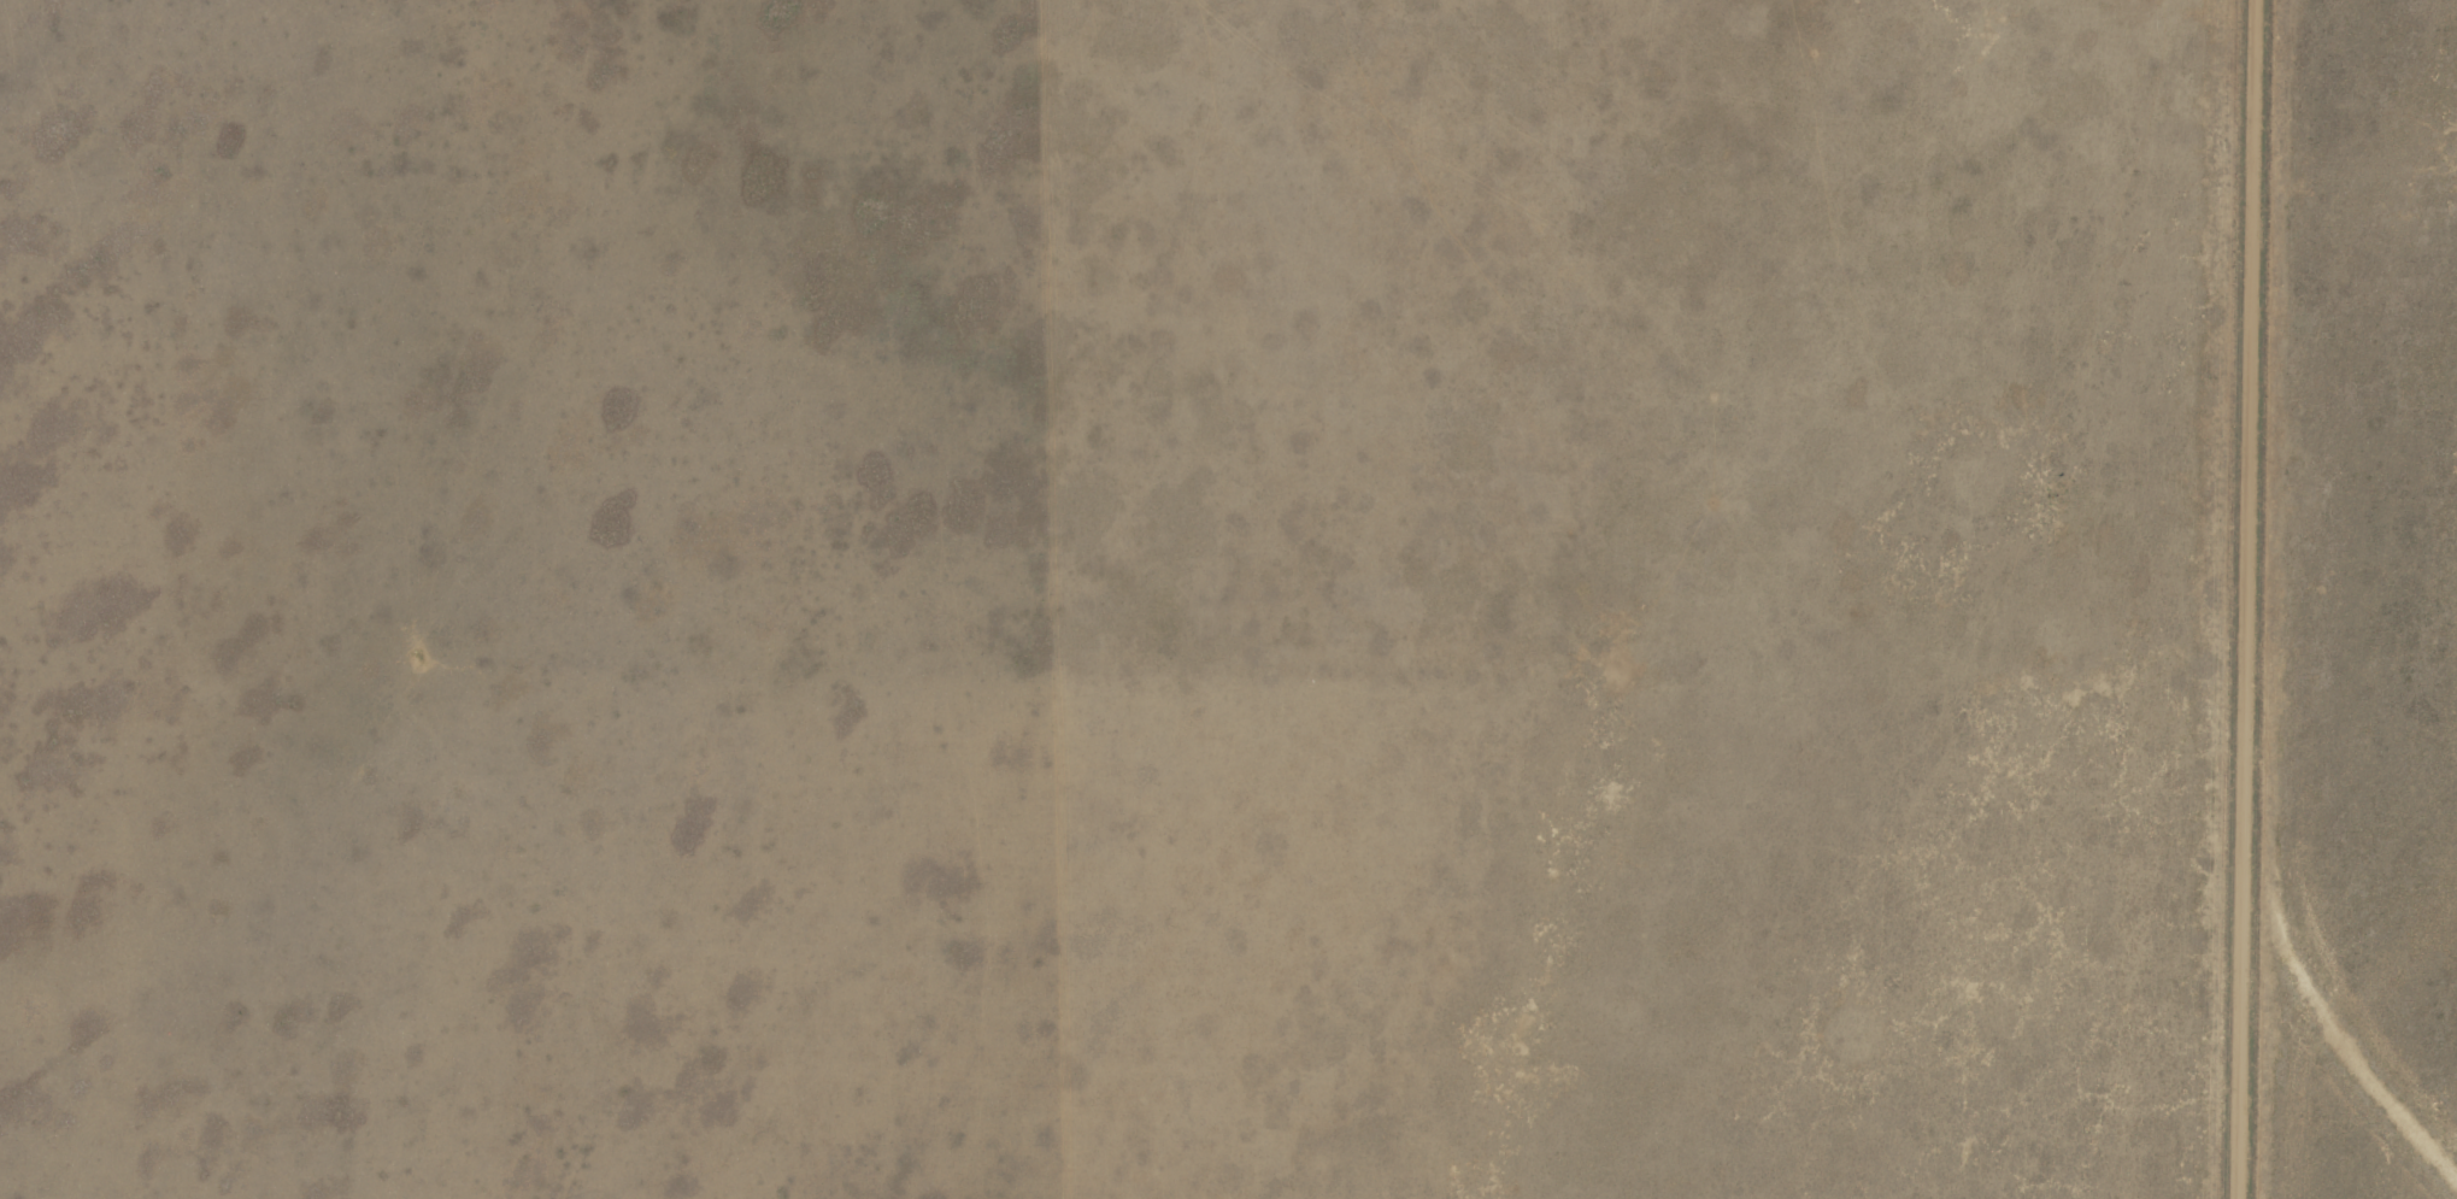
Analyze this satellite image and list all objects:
road: (2250, 599)

